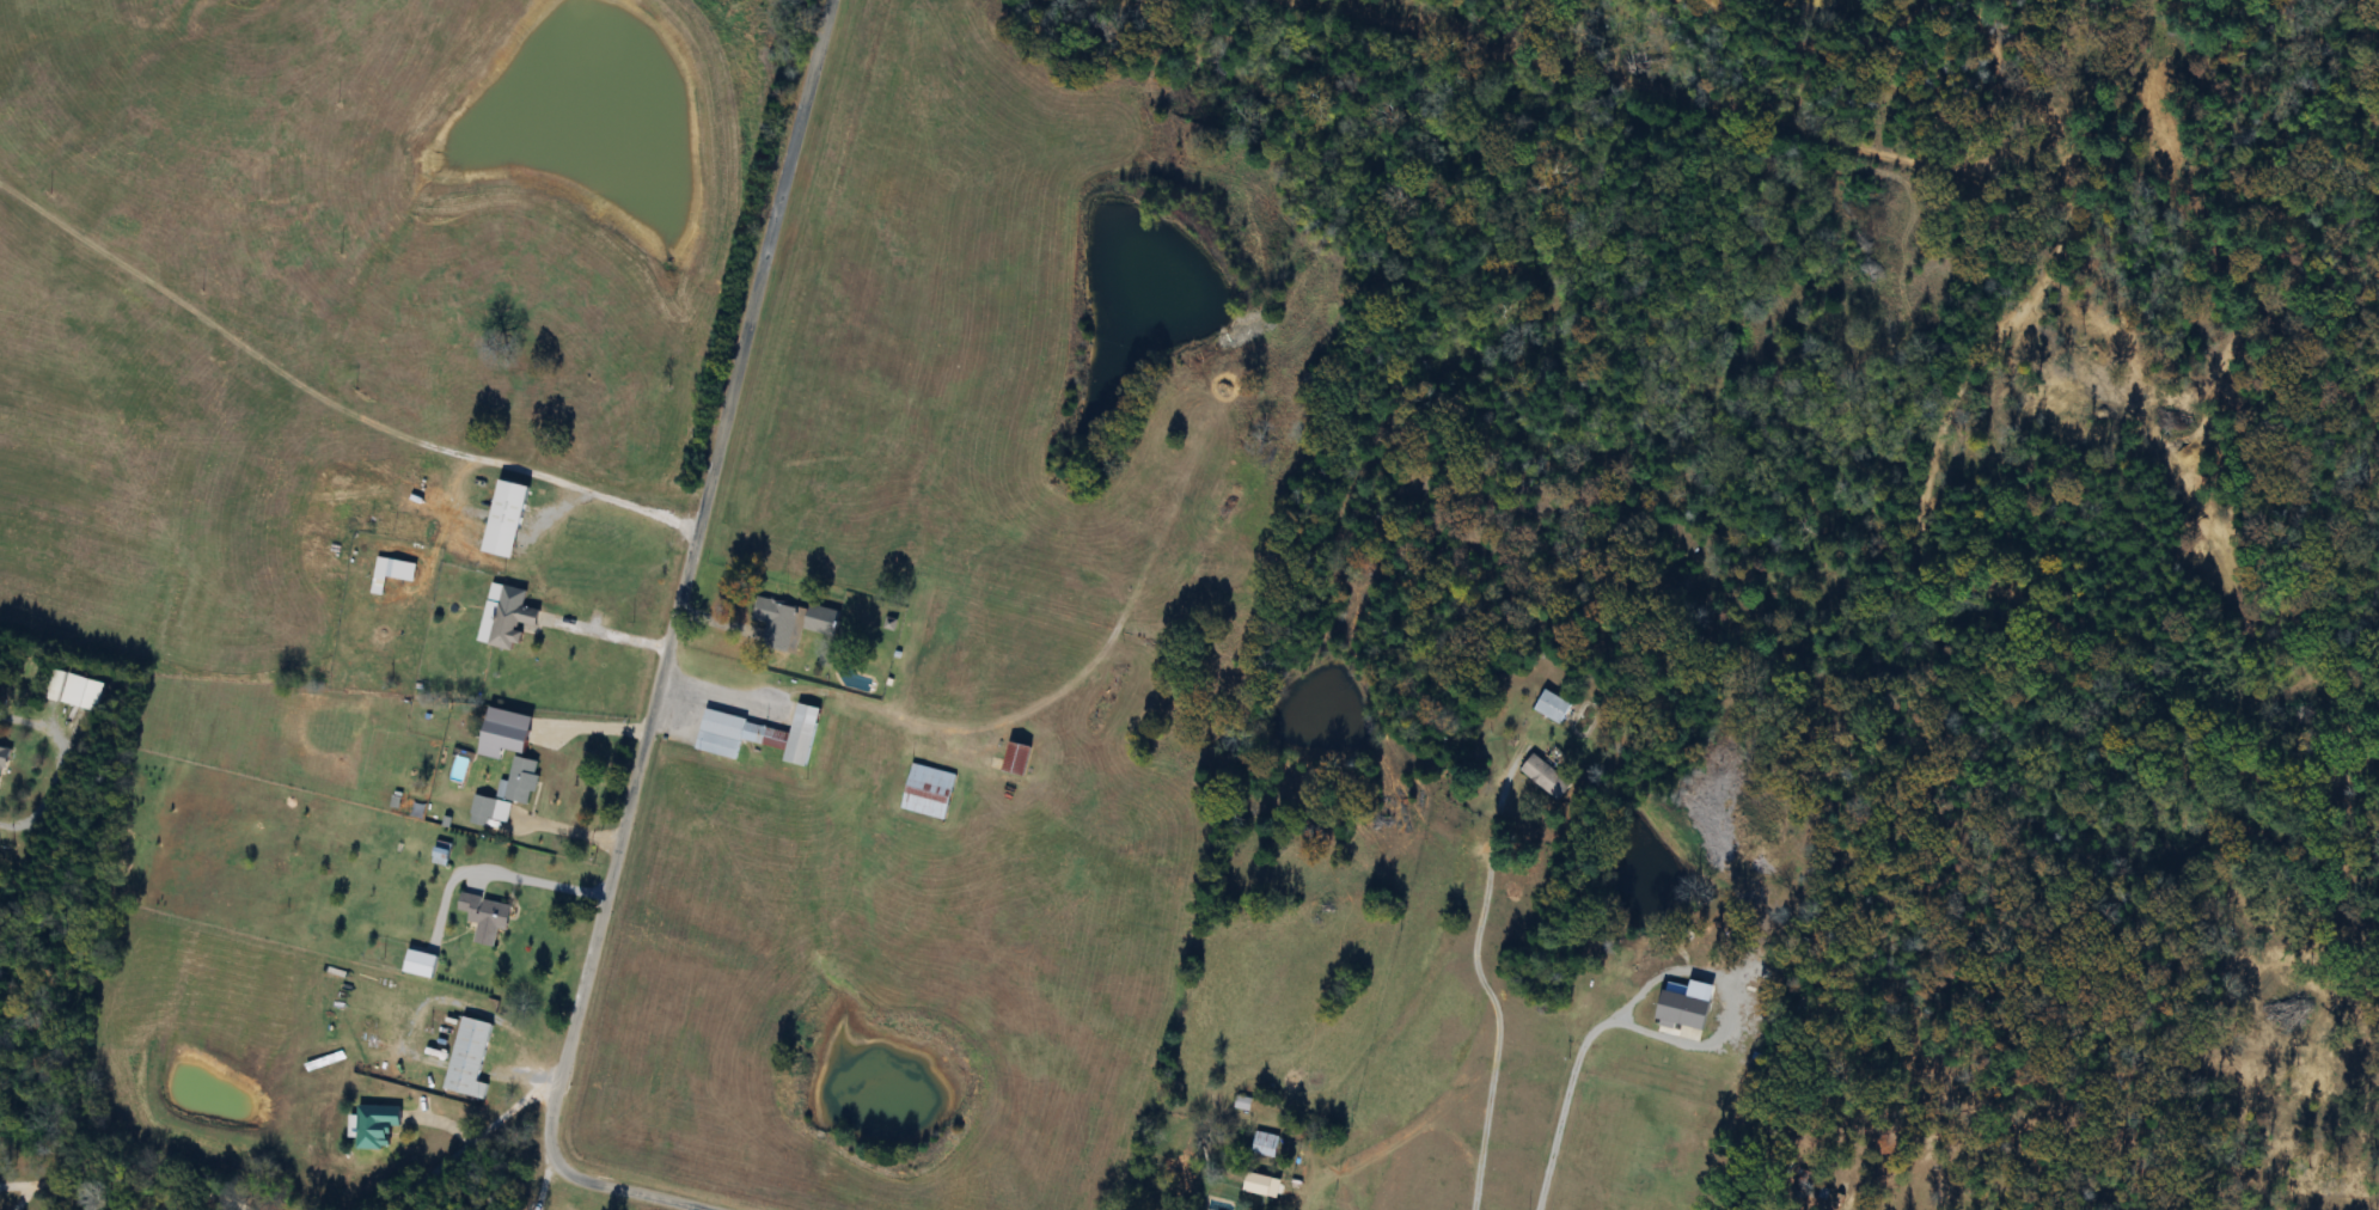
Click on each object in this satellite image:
road: (616, 495)
road: (687, 580)
building: (821, 621)
building: (778, 623)
building: (510, 625)
road: (611, 630)
building: (82, 693)
road: (723, 695)
building: (1552, 708)
road: (594, 722)
building: (759, 735)
building: (1016, 759)
building: (2, 760)
building: (1545, 777)
building: (520, 782)
building: (929, 793)
building: (488, 812)
road: (568, 825)
building: (441, 855)
road: (536, 876)
building: (485, 919)
building: (420, 965)
road: (1485, 980)
road: (1735, 1000)
building: (469, 1061)
road: (1567, 1102)
building: (375, 1126)
road: (472, 1141)
building: (1265, 1145)
road: (141, 1167)
road: (641, 1184)
road: (533, 1185)
road: (690, 1204)

